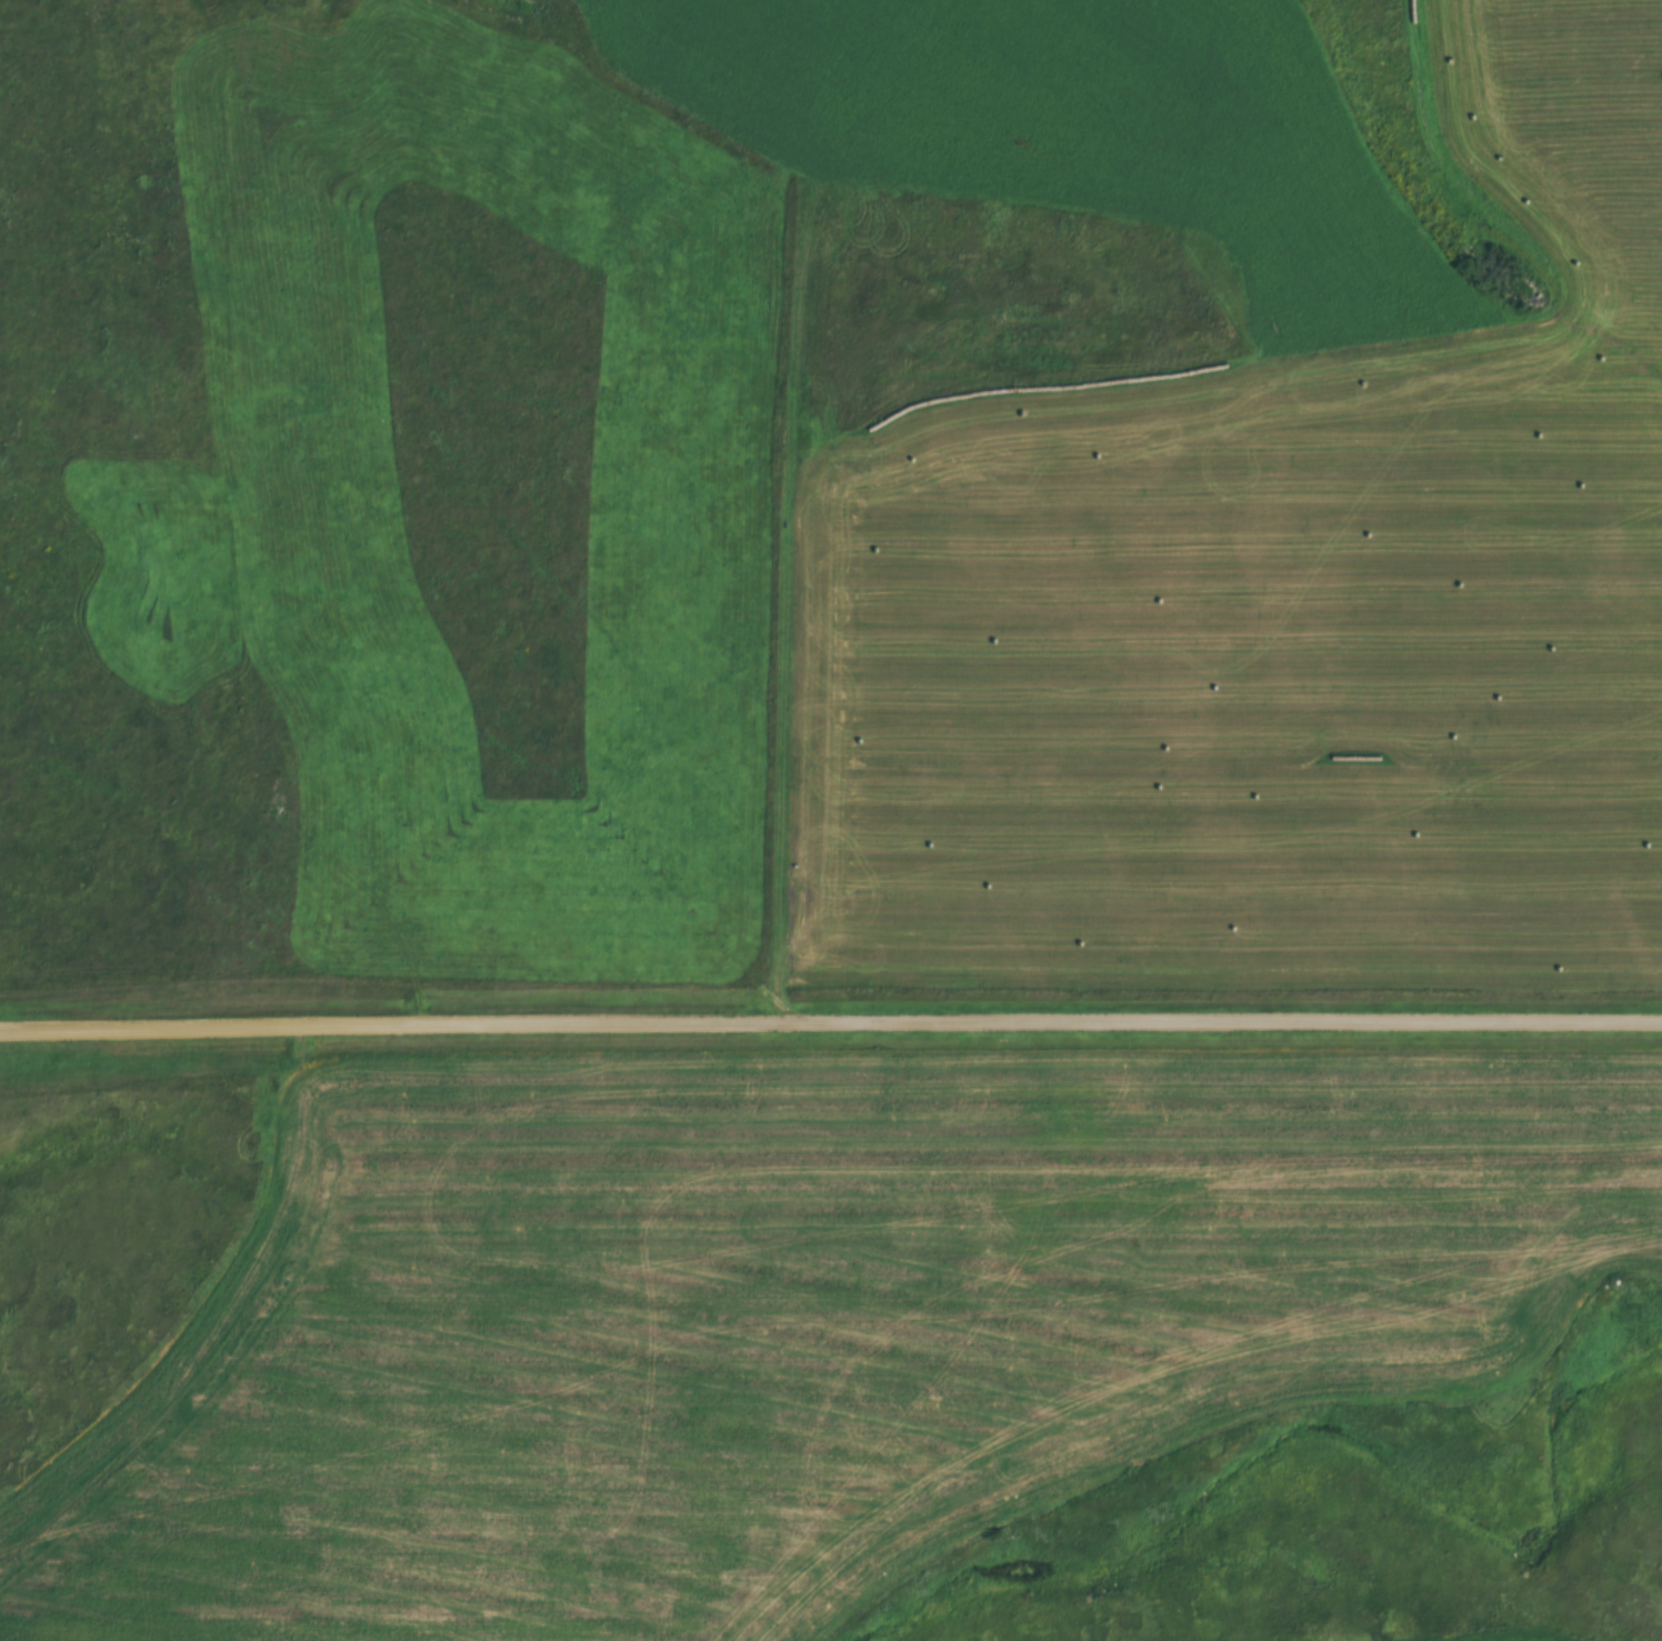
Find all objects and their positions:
road: (830, 1030)

